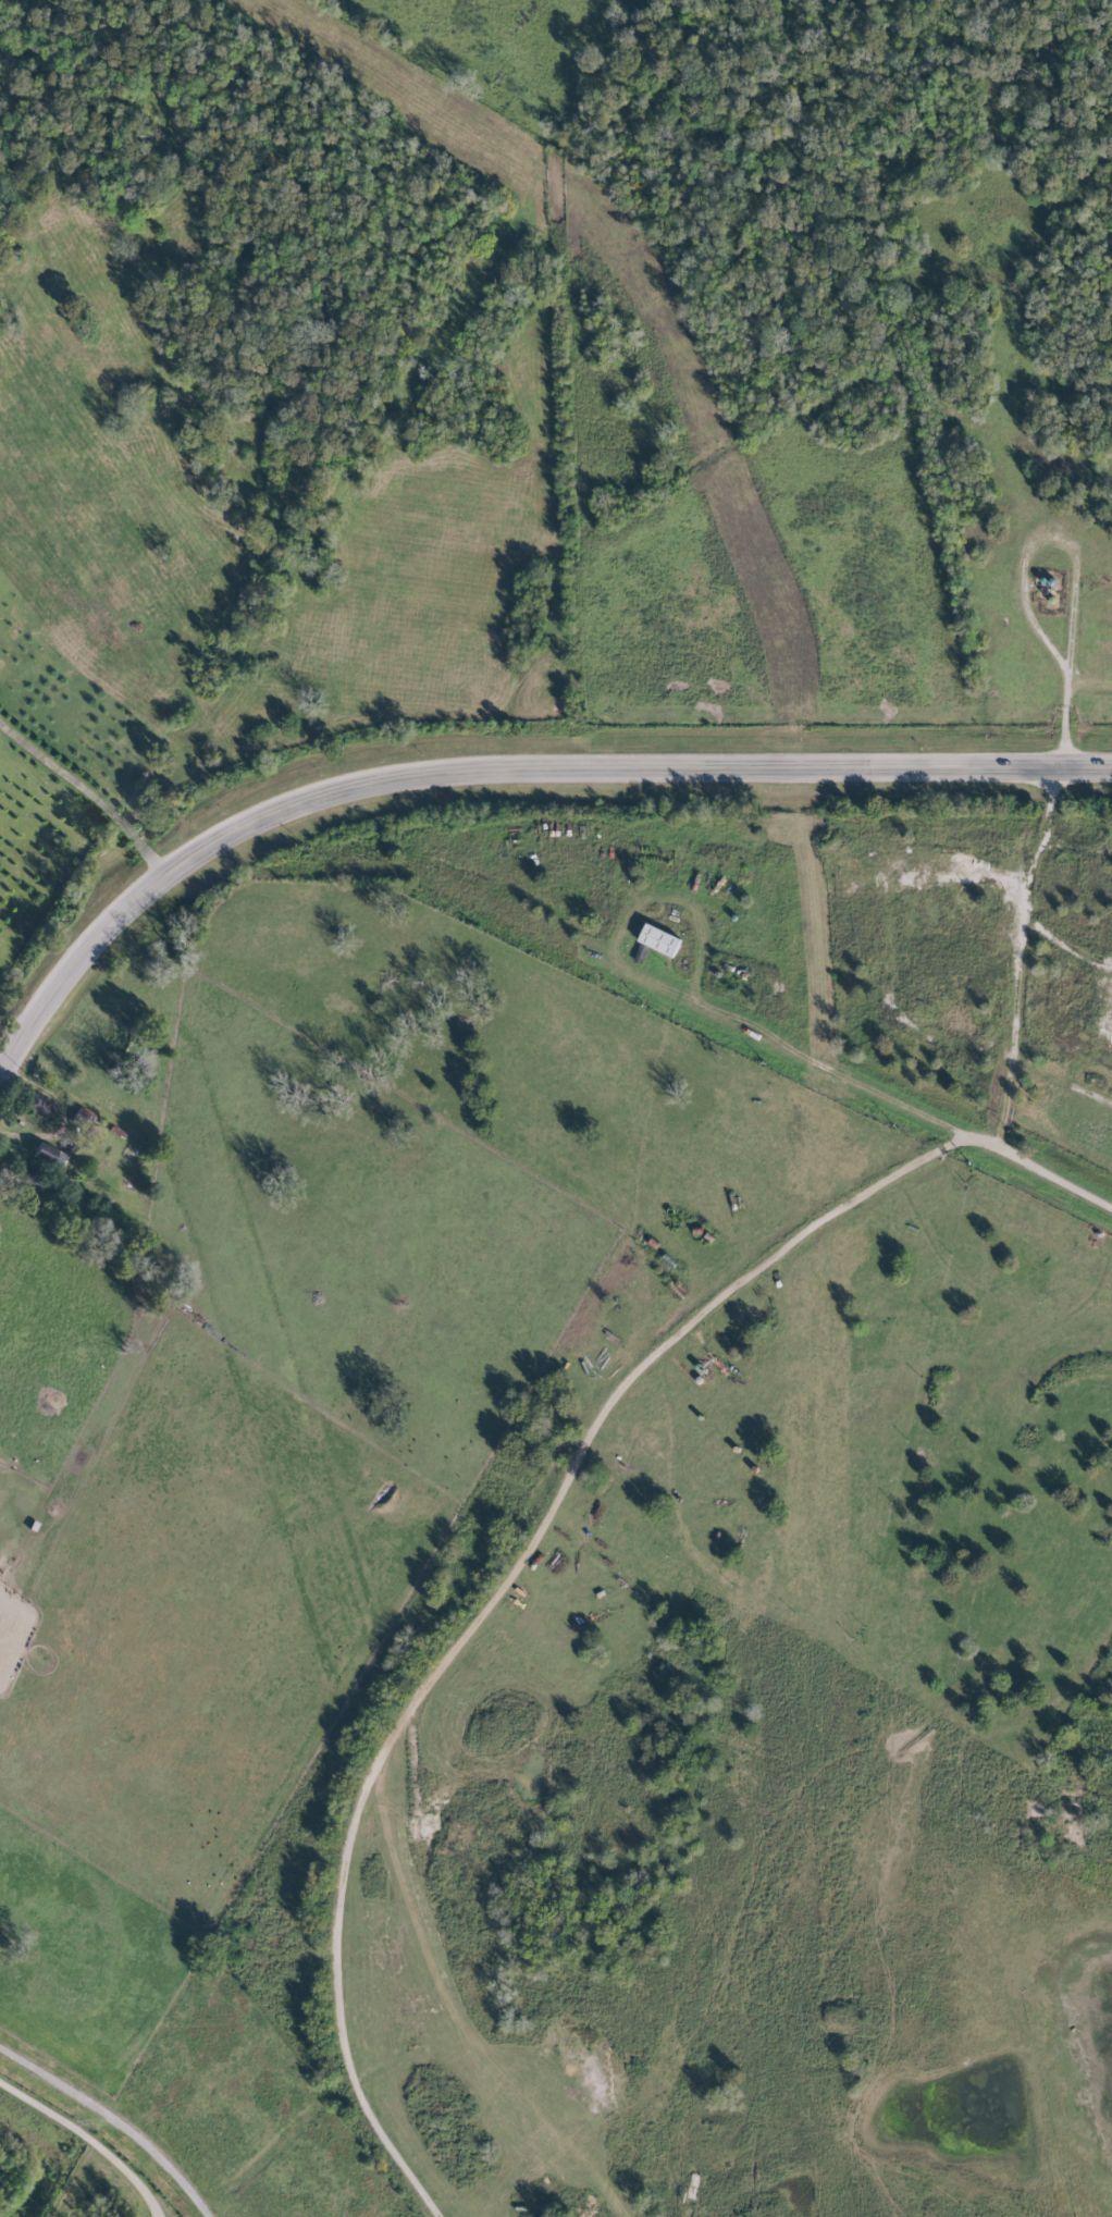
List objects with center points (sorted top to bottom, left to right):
road: (1071, 562)
road: (496, 773)
road: (86, 797)
road: (1075, 854)
road: (1025, 897)
building: (658, 940)
road: (1062, 951)
road: (666, 988)
building: (36, 1105)
building: (46, 1155)
building: (24, 1178)
road: (118, 2118)

